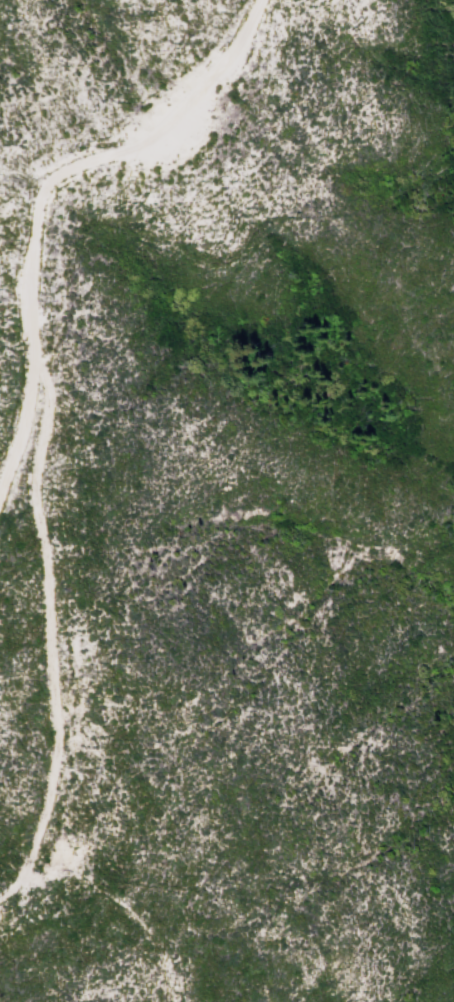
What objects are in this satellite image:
road: (37, 189)
road: (51, 633)
road: (120, 912)

